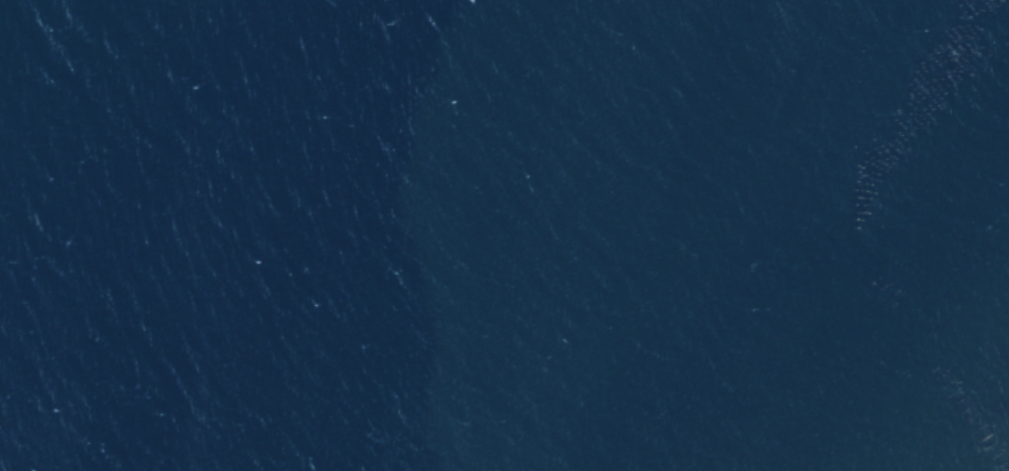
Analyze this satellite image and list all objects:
river: (231, 235)

